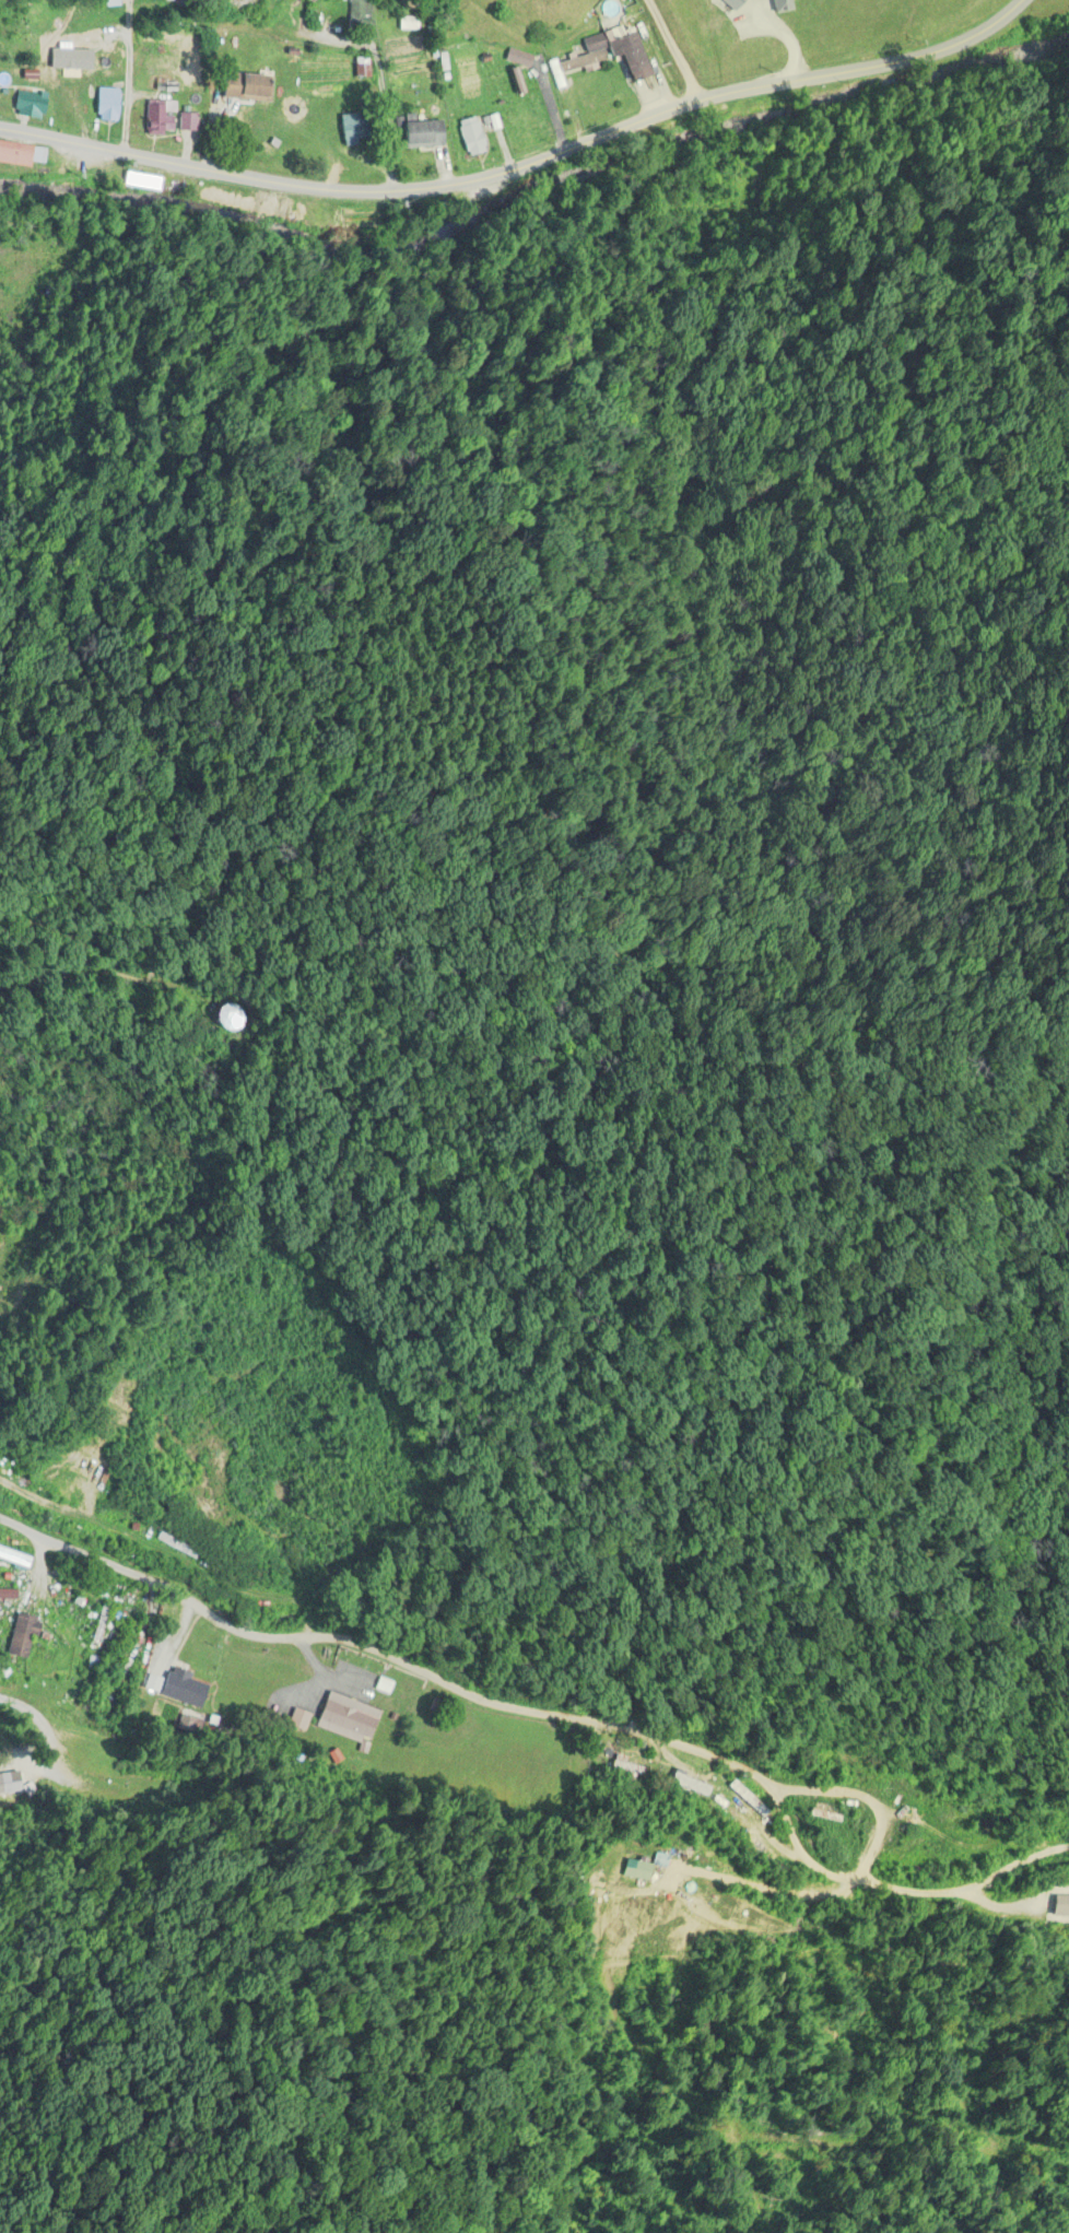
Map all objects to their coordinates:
building: (242, 4)
building: (359, 12)
building: (606, 52)
building: (248, 86)
building: (31, 105)
building: (107, 105)
building: (158, 118)
building: (188, 120)
building: (356, 128)
building: (424, 134)
building: (472, 136)
building: (20, 154)
road: (519, 166)
building: (230, 1018)
building: (14, 1559)
building: (9, 1594)
building: (22, 1636)
road: (539, 1662)
building: (152, 1683)
building: (183, 1690)
building: (294, 1719)
building: (351, 1720)
building: (625, 1767)
building: (637, 1870)

